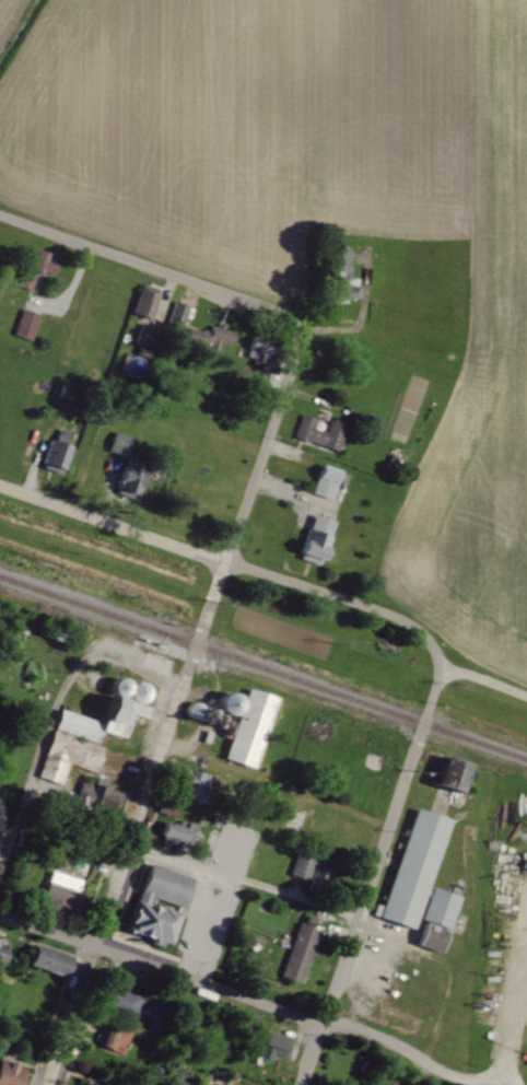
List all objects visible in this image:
road: (127, 256)
building: (34, 267)
building: (340, 276)
building: (142, 303)
building: (176, 314)
building: (24, 324)
building: (204, 338)
building: (254, 355)
building: (317, 433)
building: (118, 444)
building: (51, 456)
building: (126, 480)
building: (323, 481)
building: (312, 538)
road: (232, 563)
road: (89, 655)
railway: (262, 666)
road: (483, 679)
road: (180, 685)
building: (112, 687)
building: (222, 704)
building: (246, 728)
building: (86, 732)
building: (447, 774)
building: (194, 784)
building: (99, 795)
building: (3, 816)
building: (176, 833)
building: (300, 866)
road: (372, 878)
road: (244, 882)
building: (417, 884)
building: (59, 890)
building: (141, 906)
road: (215, 929)
building: (0, 948)
building: (297, 953)
building: (43, 964)
road: (209, 983)
building: (125, 1003)
road: (508, 1022)
building: (115, 1039)
building: (269, 1046)
road: (413, 1073)
building: (8, 1074)
road: (465, 1081)

